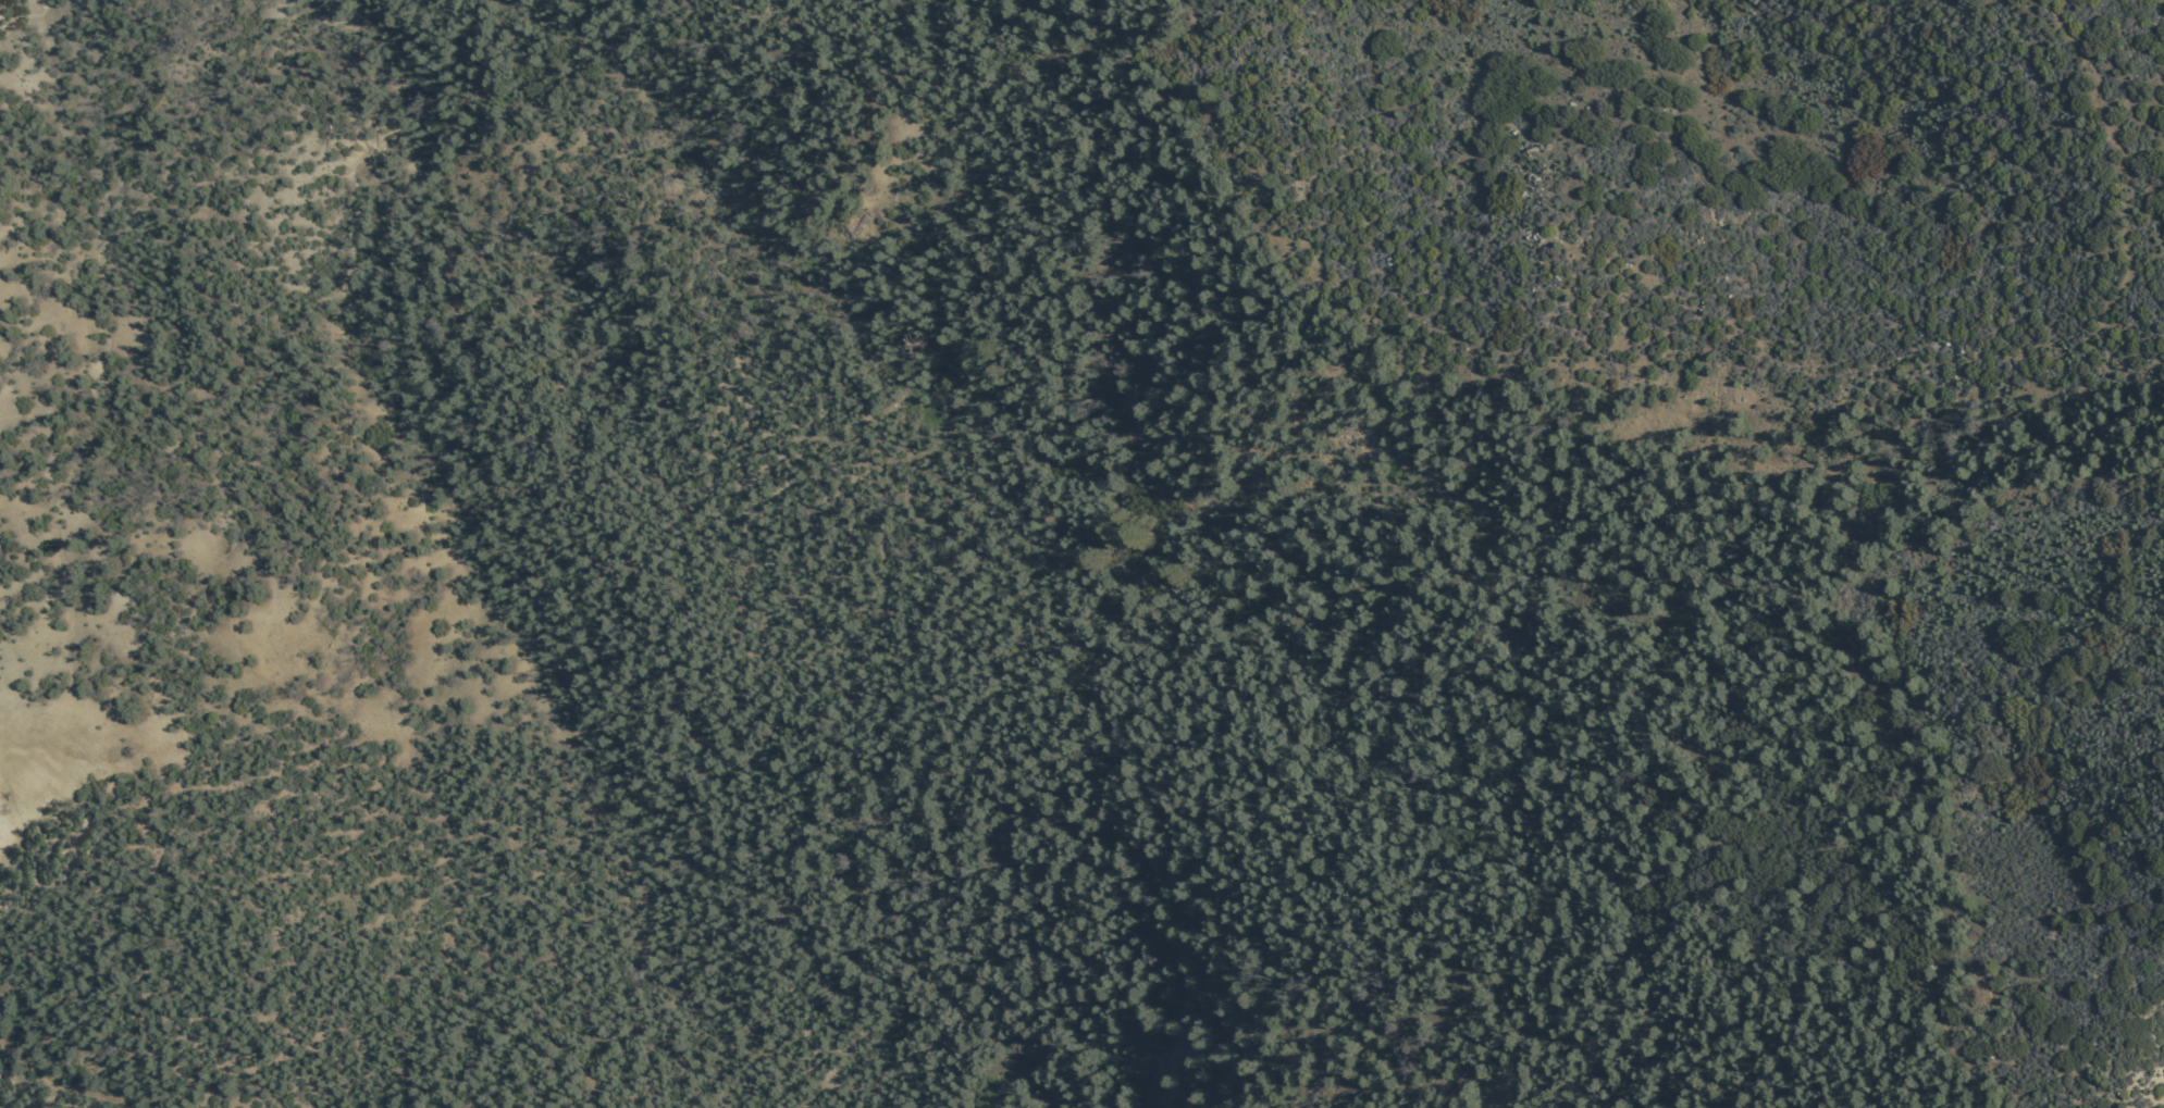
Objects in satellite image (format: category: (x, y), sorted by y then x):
road: (60, 1085)

